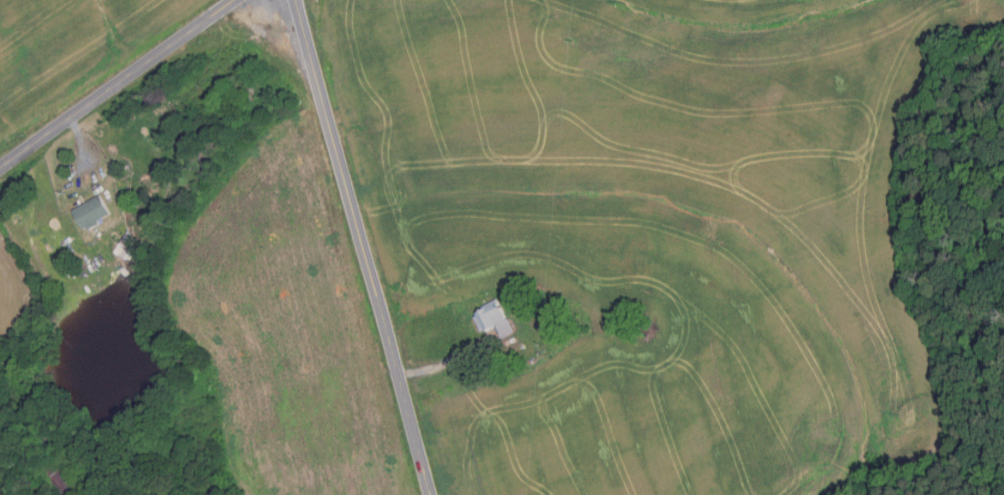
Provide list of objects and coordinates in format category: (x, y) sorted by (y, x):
crop: (67, 49)
road: (115, 83)
road: (79, 140)
building: (92, 211)
road: (361, 247)
building: (493, 318)
road: (439, 363)
building: (57, 480)

